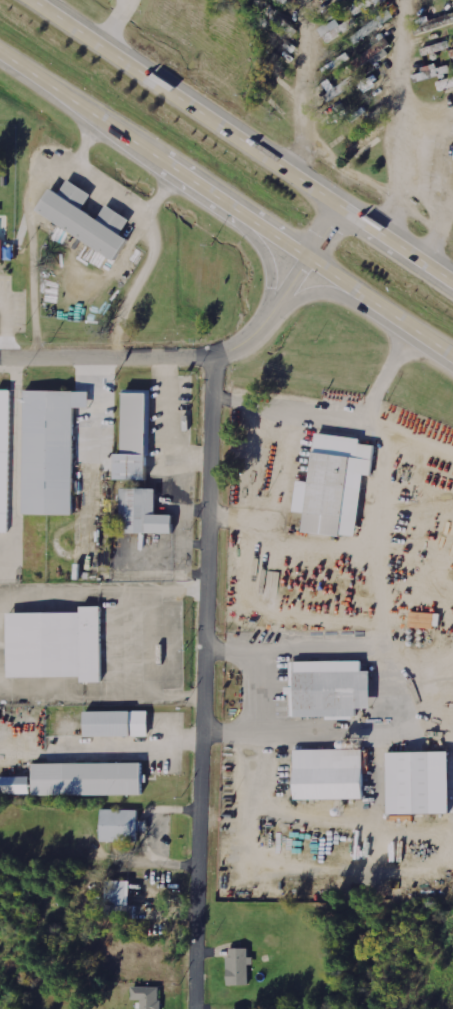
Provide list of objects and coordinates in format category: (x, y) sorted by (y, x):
building: (362, 6)
road: (111, 19)
building: (336, 28)
building: (445, 84)
building: (337, 87)
road: (302, 88)
road: (397, 118)
road: (246, 141)
road: (226, 204)
road: (223, 213)
building: (88, 220)
park: (11, 248)
building: (2, 249)
road: (332, 290)
road: (206, 356)
road: (366, 404)
building: (136, 435)
building: (50, 451)
building: (5, 456)
road: (282, 456)
building: (337, 485)
building: (142, 513)
road: (141, 636)
parking lot: (144, 640)
building: (59, 642)
road: (383, 656)
road: (202, 682)
building: (331, 686)
road: (254, 689)
building: (116, 724)
road: (125, 745)
building: (330, 775)
building: (91, 776)
building: (411, 784)
building: (16, 785)
road: (165, 807)
road: (138, 824)
building: (121, 825)
road: (159, 859)
building: (120, 900)
building: (240, 966)
building: (149, 996)

